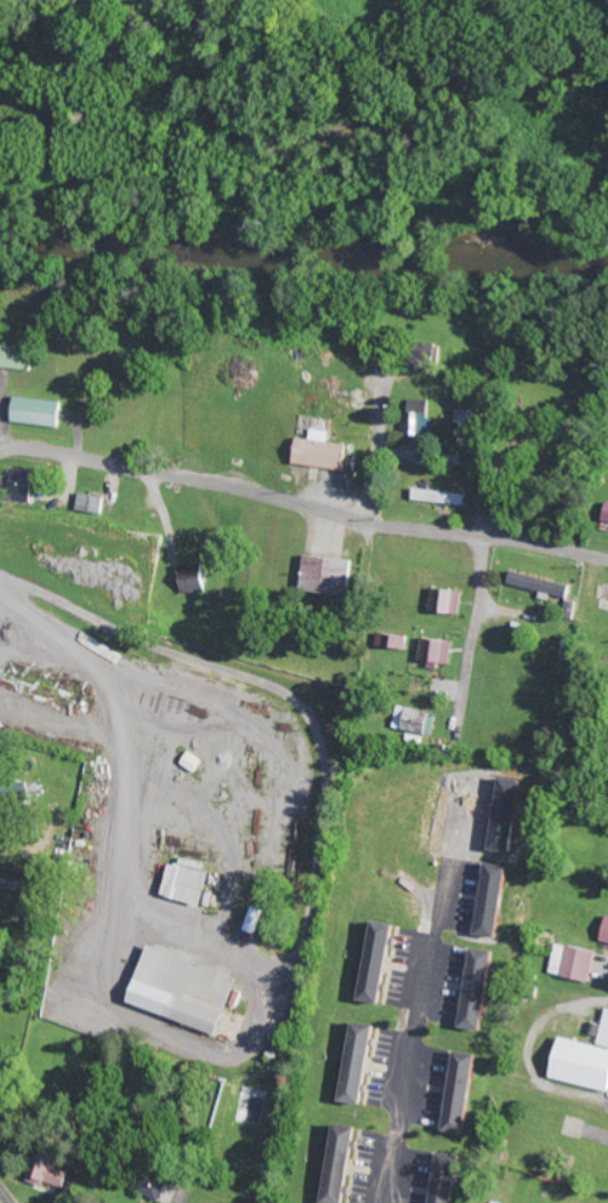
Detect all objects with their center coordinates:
building: (19, 357)
building: (41, 411)
building: (420, 417)
building: (473, 427)
building: (326, 451)
building: (444, 496)
building: (95, 502)
road: (302, 508)
road: (366, 548)
building: (331, 574)
building: (198, 577)
building: (542, 583)
building: (450, 600)
building: (397, 639)
building: (438, 650)
road: (472, 713)
building: (416, 720)
building: (5, 789)
building: (192, 882)
building: (500, 900)
building: (255, 919)
building: (606, 933)
building: (385, 962)
building: (575, 962)
building: (189, 990)
building: (485, 990)
building: (584, 1061)
building: (365, 1062)
building: (2, 1088)
building: (468, 1093)
building: (347, 1164)
building: (53, 1170)
building: (453, 1179)
building: (157, 1185)
road: (0, 1202)

